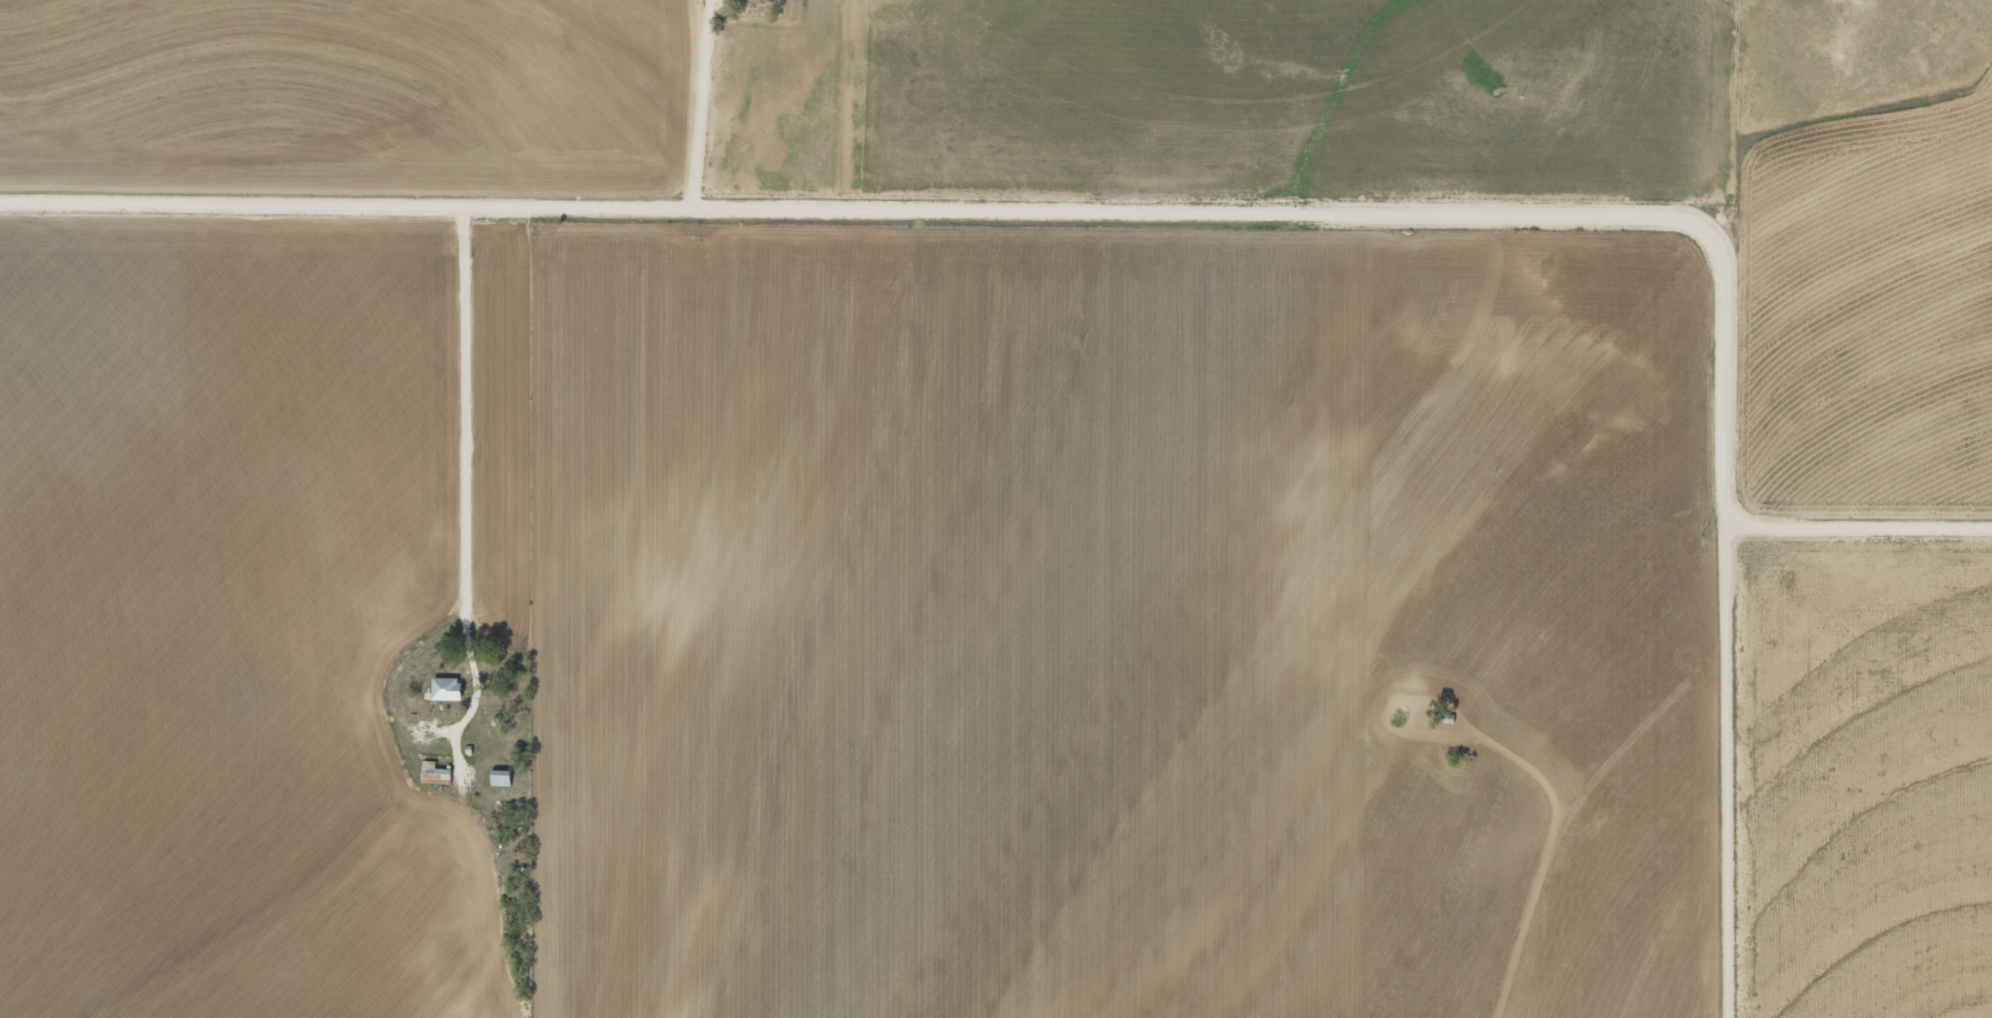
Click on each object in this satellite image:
building: (762, 1)
road: (1012, 204)
road: (480, 420)
road: (1869, 534)
road: (1748, 626)
building: (447, 688)
road: (1509, 742)
building: (436, 774)
building: (502, 778)
road: (1750, 868)
road: (1519, 882)

